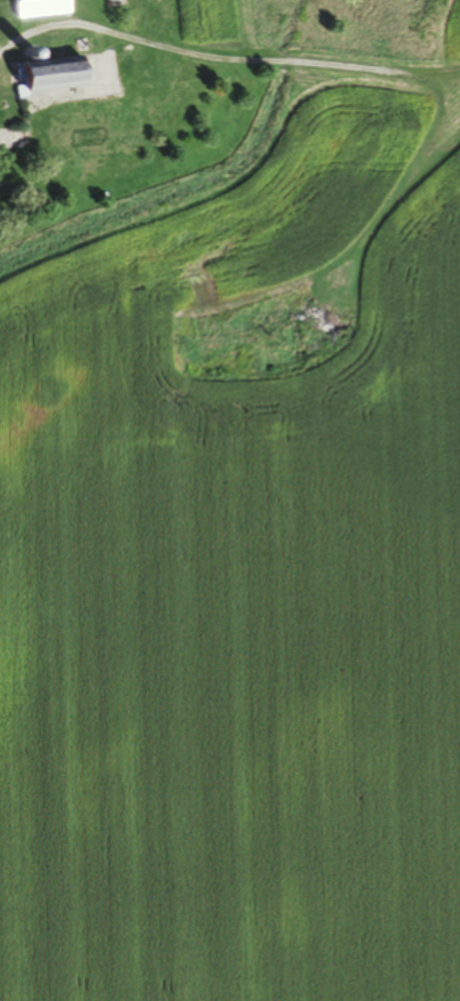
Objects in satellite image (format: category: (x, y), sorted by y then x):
building: (36, 10)
road: (224, 66)
building: (57, 78)

